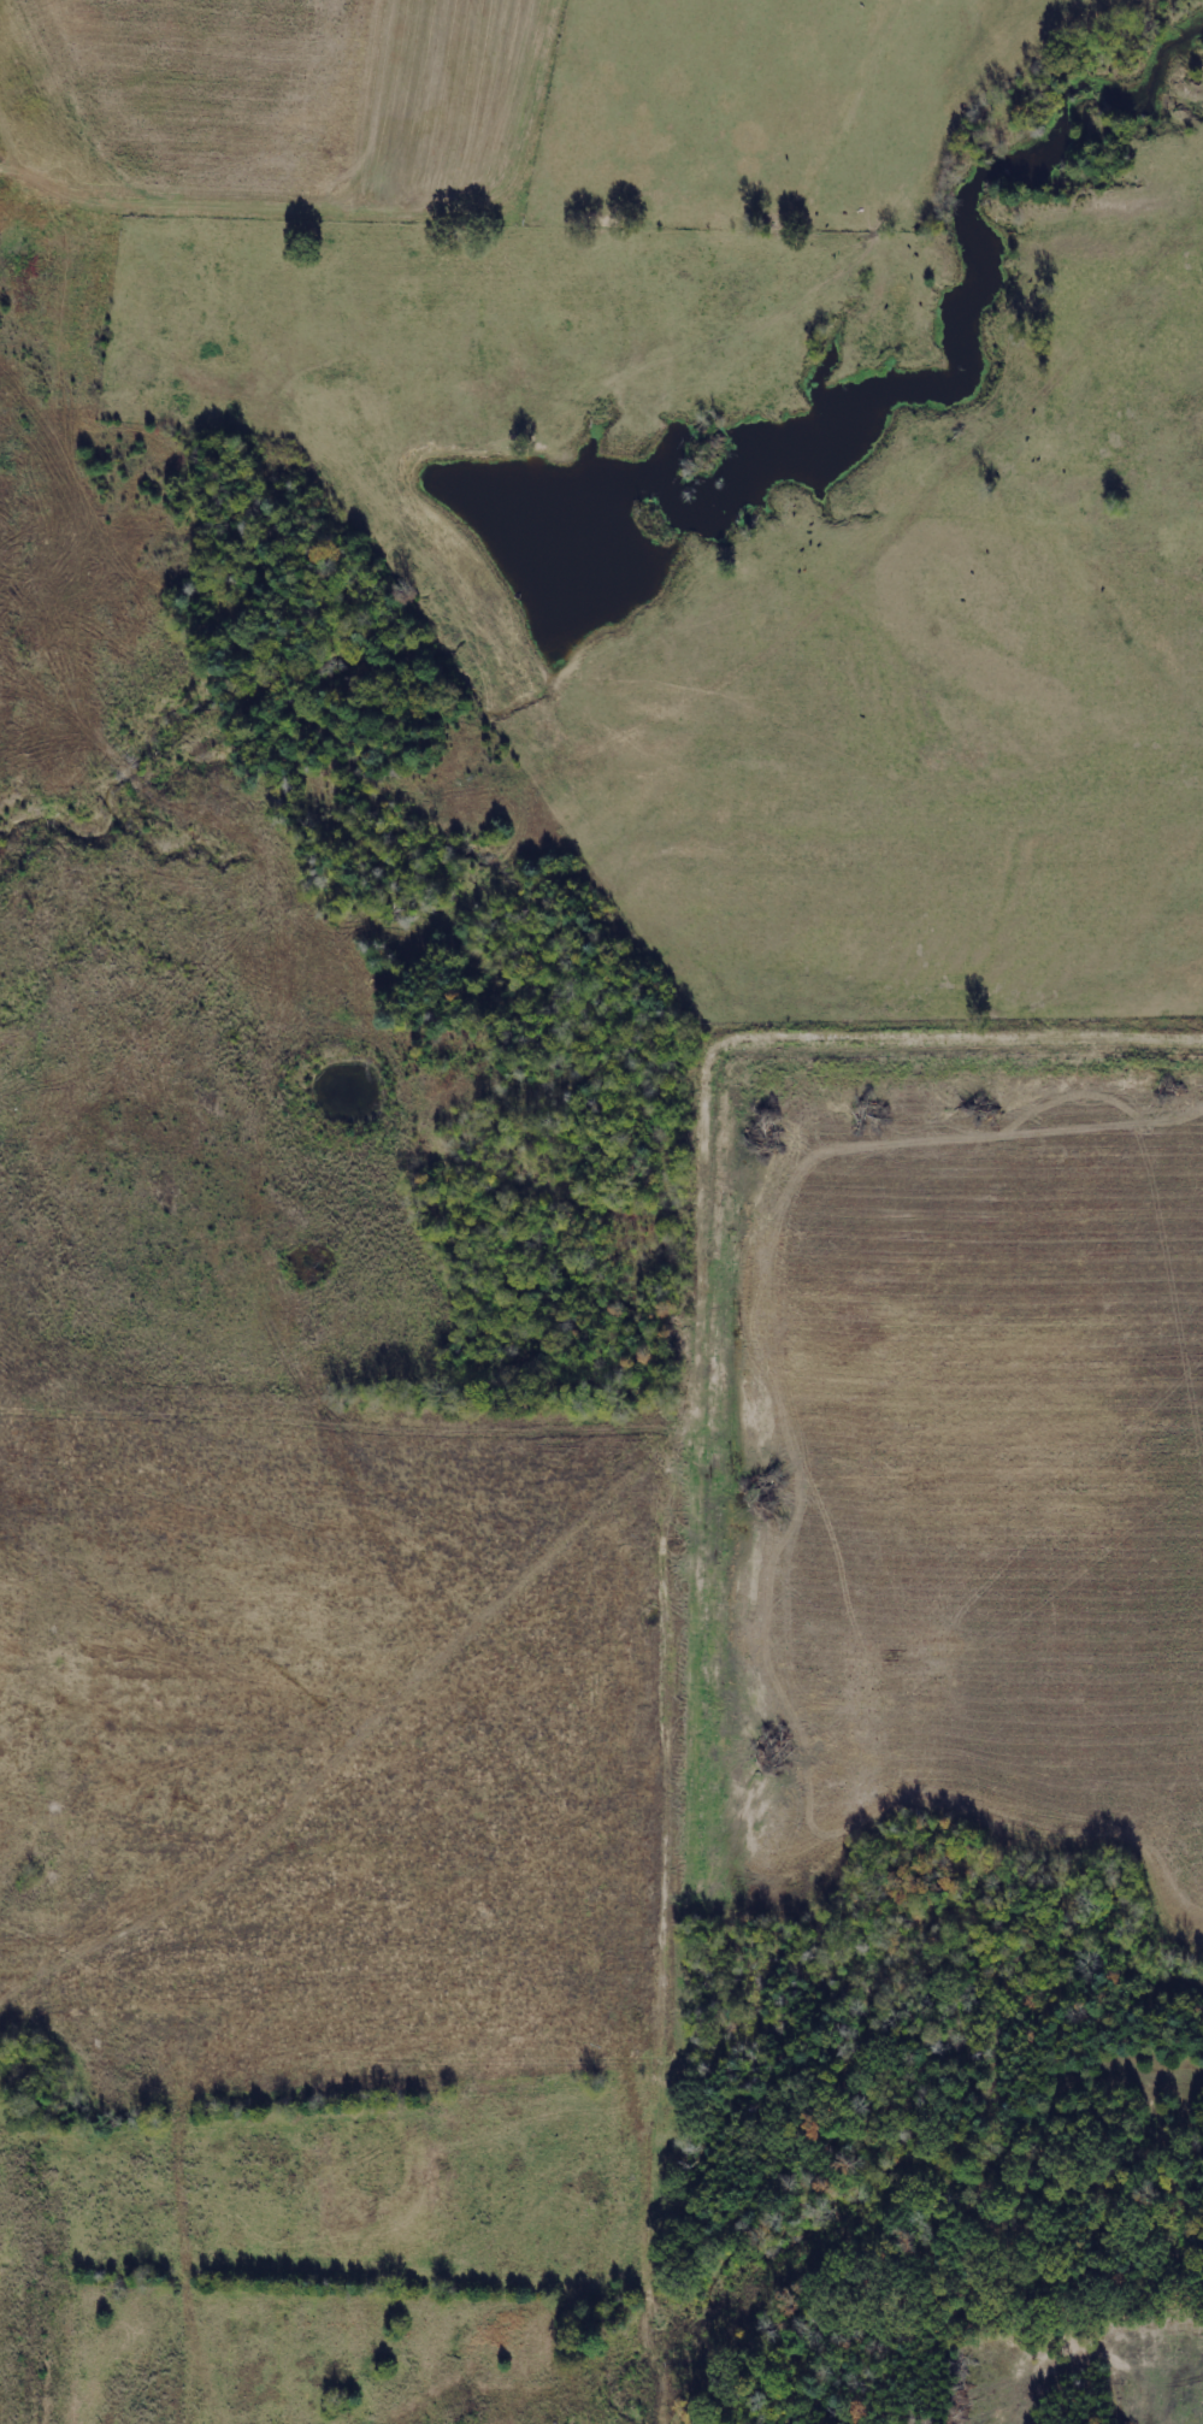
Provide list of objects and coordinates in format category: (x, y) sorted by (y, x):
road: (425, 1364)

